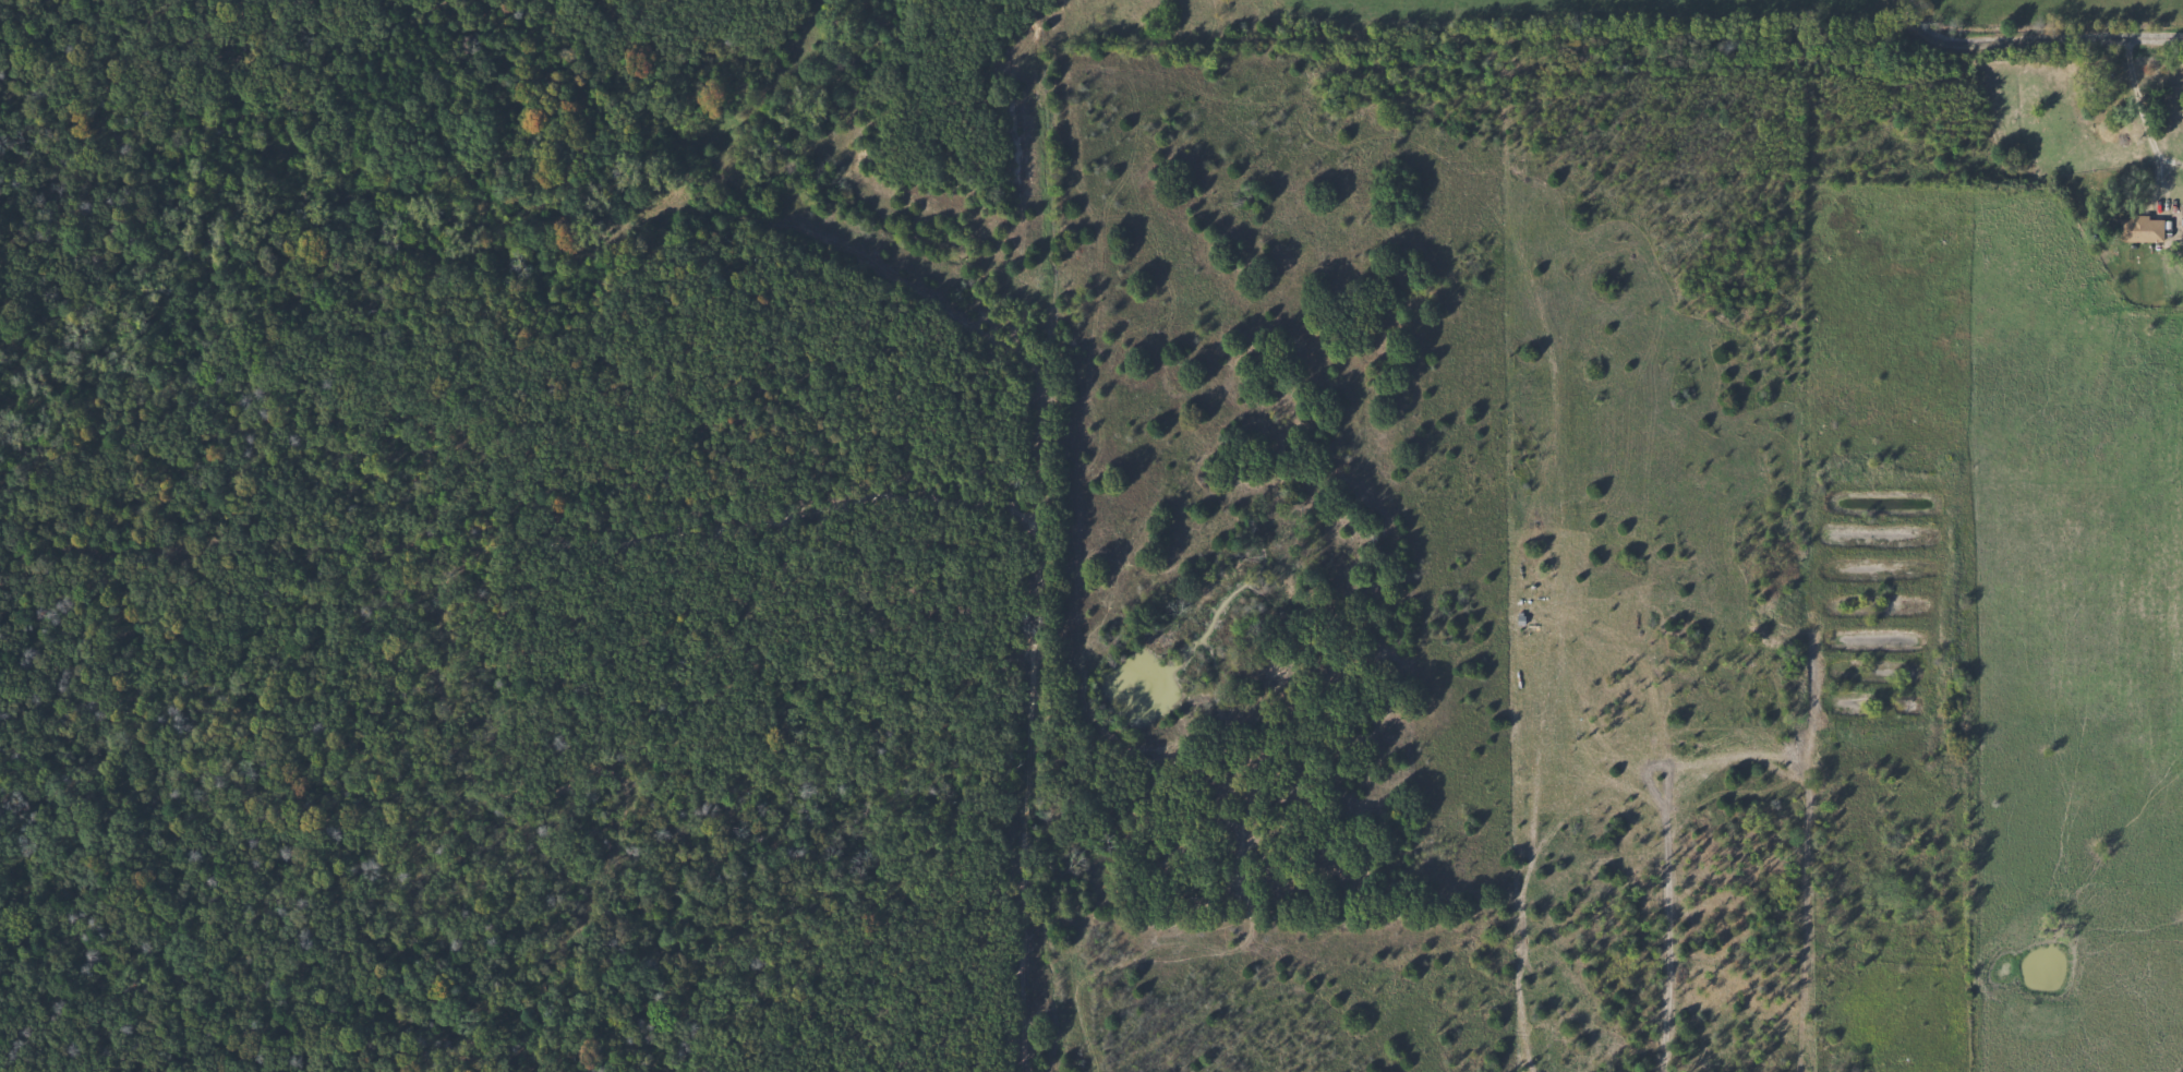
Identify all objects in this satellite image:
road: (2036, 43)
road: (2151, 118)
building: (2138, 229)

